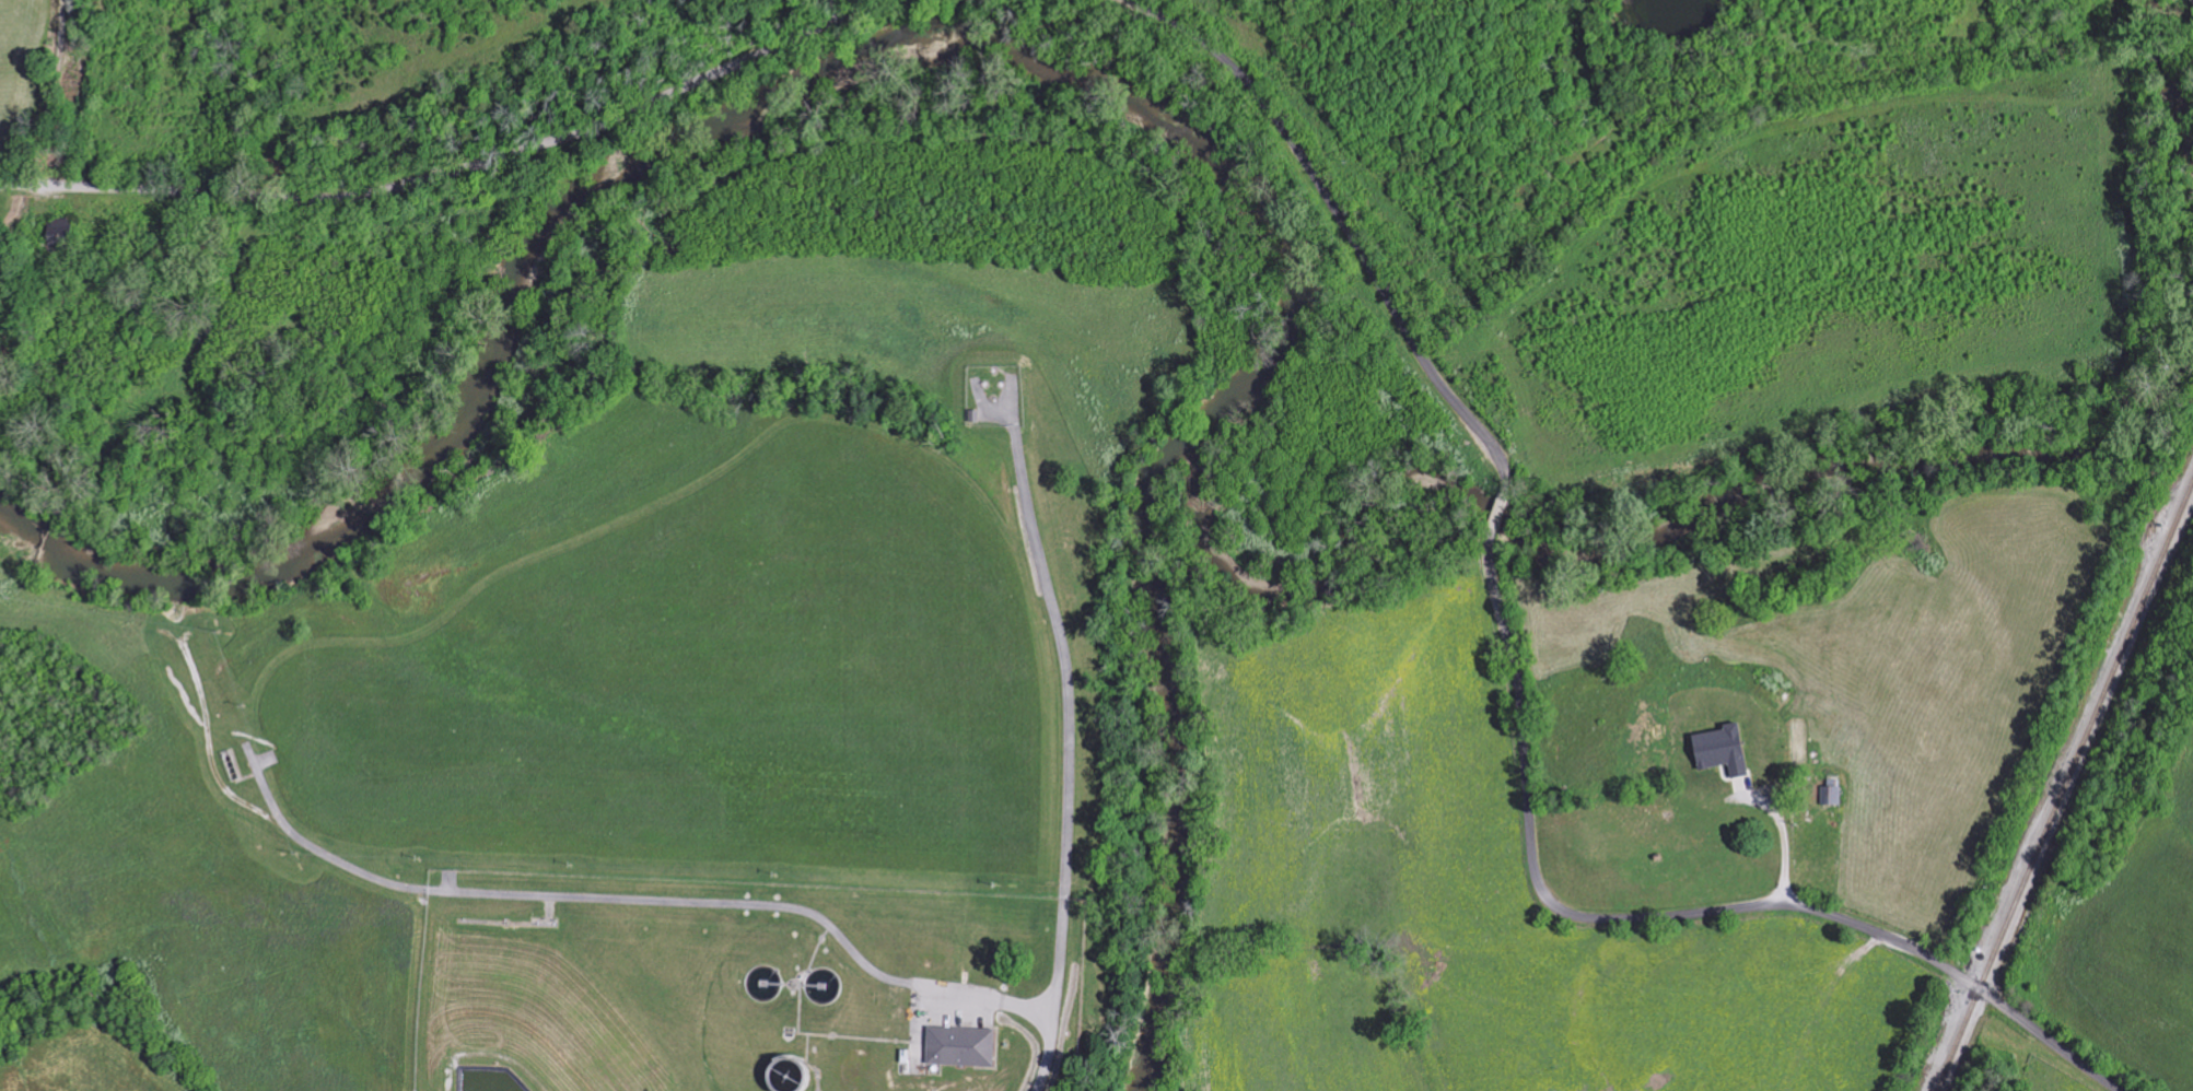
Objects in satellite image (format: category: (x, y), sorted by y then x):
road: (457, 169)
road: (1519, 696)
building: (1719, 751)
road: (1071, 760)
railway: (2065, 788)
road: (1785, 842)
wastewater plant: (743, 986)
road: (998, 1000)
building: (958, 1046)

